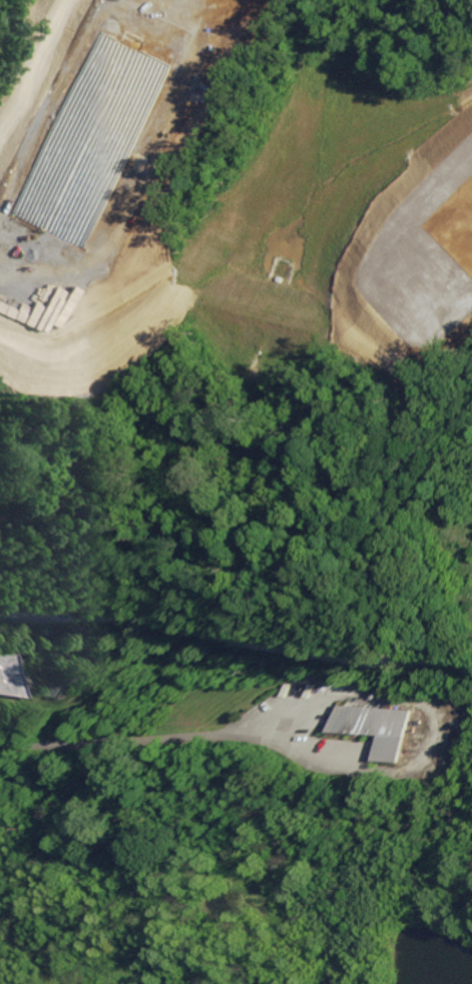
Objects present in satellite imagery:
road: (35, 64)
building: (94, 138)
building: (452, 218)
building: (25, 671)
building: (355, 725)
road: (417, 733)
road: (127, 737)
road: (358, 867)
park: (301, 877)
road: (388, 894)
road: (182, 975)

